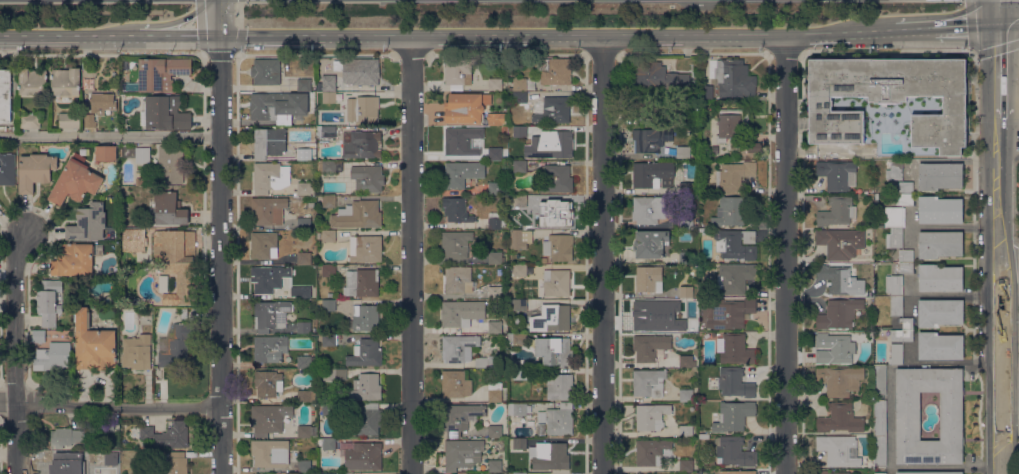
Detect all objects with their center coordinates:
road: (239, 0)
road: (998, 10)
road: (239, 14)
road: (220, 17)
traffic signals: (999, 21)
road: (1009, 21)
road: (154, 23)
road: (966, 23)
road: (913, 26)
road: (197, 34)
traffic signals: (220, 34)
road: (69, 35)
road: (157, 35)
road: (556, 35)
road: (972, 49)
road: (601, 52)
road: (693, 52)
road: (785, 52)
road: (886, 52)
road: (102, 53)
road: (206, 53)
road: (315, 53)
road: (411, 53)
road: (507, 53)
road: (998, 69)
building: (555, 70)
building: (267, 71)
building: (361, 71)
building: (159, 74)
building: (458, 74)
building: (658, 76)
building: (734, 78)
building: (67, 81)
building: (33, 82)
building: (329, 82)
building: (523, 83)
building: (495, 84)
building: (304, 85)
building: (706, 92)
building: (5, 95)
building: (520, 97)
building: (325, 99)
building: (103, 103)
building: (889, 104)
building: (278, 105)
building: (646, 105)
building: (466, 107)
building: (363, 109)
building: (554, 110)
building: (758, 111)
building: (166, 113)
road: (1008, 116)
building: (497, 118)
building: (684, 118)
building: (30, 120)
building: (70, 120)
building: (89, 120)
building: (731, 123)
building: (4, 128)
building: (520, 131)
building: (326, 132)
road: (110, 136)
building: (462, 139)
building: (650, 139)
building: (269, 142)
building: (560, 144)
road: (997, 144)
building: (362, 145)
building: (683, 151)
building: (106, 153)
building: (135, 153)
building: (304, 154)
building: (495, 154)
building: (694, 154)
road: (1008, 156)
building: (171, 164)
building: (326, 166)
building: (520, 166)
building: (8, 169)
building: (895, 170)
building: (35, 171)
building: (462, 173)
building: (838, 174)
building: (646, 175)
building: (731, 176)
building: (940, 176)
building: (270, 177)
building: (368, 178)
building: (556, 179)
building: (138, 181)
building: (76, 182)
building: (906, 186)
building: (305, 188)
building: (495, 188)
building: (686, 188)
building: (904, 199)
building: (329, 201)
building: (520, 201)
building: (169, 209)
building: (649, 209)
building: (268, 210)
building: (457, 210)
building: (733, 210)
building: (940, 210)
building: (836, 211)
road: (1008, 213)
building: (558, 214)
building: (358, 215)
building: (894, 217)
building: (496, 220)
building: (686, 222)
building: (88, 223)
building: (304, 223)
building: (702, 231)
building: (329, 236)
building: (895, 238)
building: (134, 239)
building: (521, 239)
building: (841, 242)
building: (650, 243)
building: (456, 244)
building: (736, 244)
building: (940, 244)
building: (264, 245)
building: (559, 247)
building: (365, 248)
road: (785, 253)
road: (220, 254)
road: (411, 254)
road: (602, 254)
building: (906, 256)
building: (688, 257)
building: (304, 258)
building: (495, 258)
building: (76, 259)
building: (544, 259)
building: (178, 263)
building: (907, 267)
building: (329, 270)
building: (519, 270)
building: (735, 277)
building: (270, 278)
building: (648, 278)
building: (940, 278)
building: (458, 279)
building: (839, 279)
building: (556, 282)
building: (362, 283)
building: (163, 284)
building: (894, 285)
building: (304, 292)
building: (495, 292)
building: (686, 292)
building: (49, 301)
building: (695, 301)
building: (520, 304)
building: (329, 305)
building: (897, 306)
building: (462, 312)
building: (940, 312)
building: (184, 313)
building: (731, 313)
building: (646, 314)
building: (839, 314)
building: (272, 315)
building: (365, 318)
building: (552, 318)
road: (997, 322)
building: (907, 323)
building: (688, 326)
building: (304, 327)
building: (495, 327)
building: (902, 335)
building: (39, 336)
building: (329, 339)
building: (517, 339)
building: (94, 344)
building: (179, 345)
building: (650, 346)
building: (940, 346)
building: (459, 347)
building: (270, 348)
building: (835, 348)
building: (737, 349)
road: (15, 351)
building: (555, 351)
building: (137, 352)
building: (366, 353)
building: (896, 354)
building: (53, 357)
building: (488, 361)
building: (686, 361)
building: (307, 362)
road: (890, 365)
building: (334, 374)
building: (520, 374)
building: (840, 380)
building: (880, 380)
building: (735, 382)
building: (269, 383)
building: (651, 383)
building: (456, 384)
building: (366, 387)
building: (560, 387)
building: (495, 391)
building: (686, 395)
building: (306, 396)
road: (1008, 396)
road: (109, 407)
building: (329, 409)
building: (519, 409)
building: (652, 416)
building: (734, 416)
building: (908, 416)
building: (269, 418)
building: (459, 418)
building: (840, 418)
building: (558, 419)
building: (364, 421)
building: (103, 426)
building: (541, 429)
building: (307, 431)
building: (495, 431)
building: (686, 431)
building: (880, 433)
building: (168, 435)
building: (67, 437)
building: (329, 443)
building: (520, 443)
building: (839, 450)
building: (653, 451)
building: (734, 451)
building: (271, 453)
building: (460, 453)
building: (362, 455)
building: (551, 456)
building: (111, 459)
building: (67, 463)
building: (176, 463)
building: (304, 466)
building: (495, 466)
building: (686, 466)
road: (944, 467)
building: (736, 472)
building: (822, 472)
building: (929, 472)
building: (329, 473)
building: (474, 473)
building: (520, 473)
building: (642, 473)
building: (880, 473)

